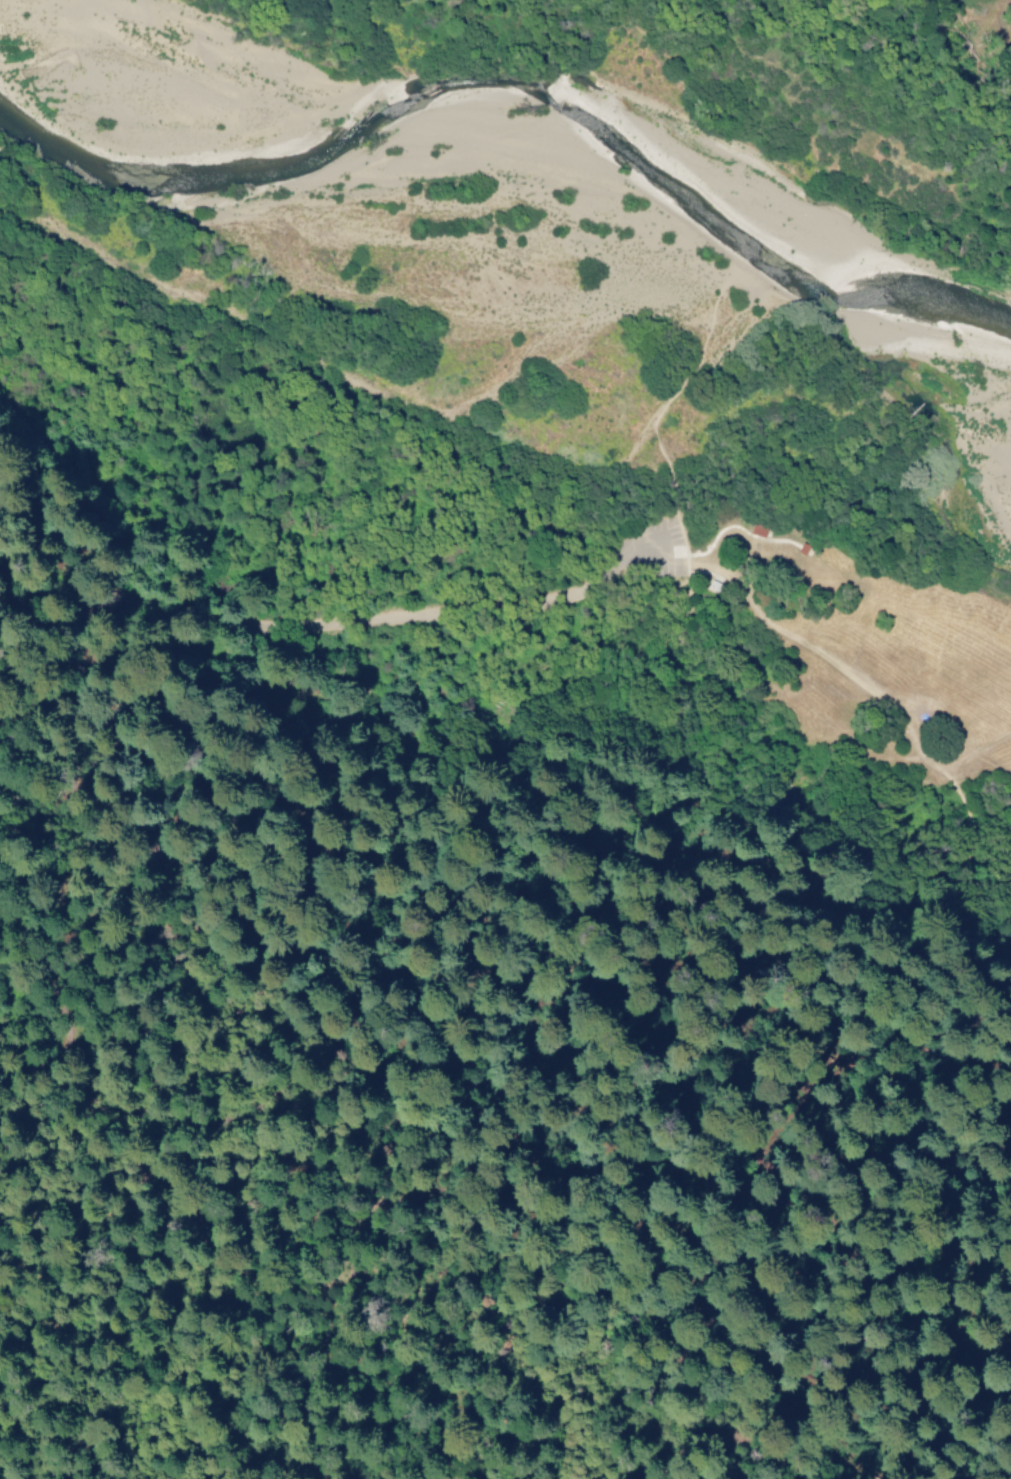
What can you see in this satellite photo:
river: (509, 196)
road: (653, 423)
parking lot: (675, 531)
road: (665, 532)
road: (35, 571)
road: (701, 572)
road: (873, 587)
road: (299, 616)
road: (909, 732)
road: (115, 794)
road: (676, 814)
road: (428, 819)
road: (806, 881)
road: (986, 943)
road: (124, 1204)
road: (726, 1330)
road: (910, 1373)
road: (940, 1448)

